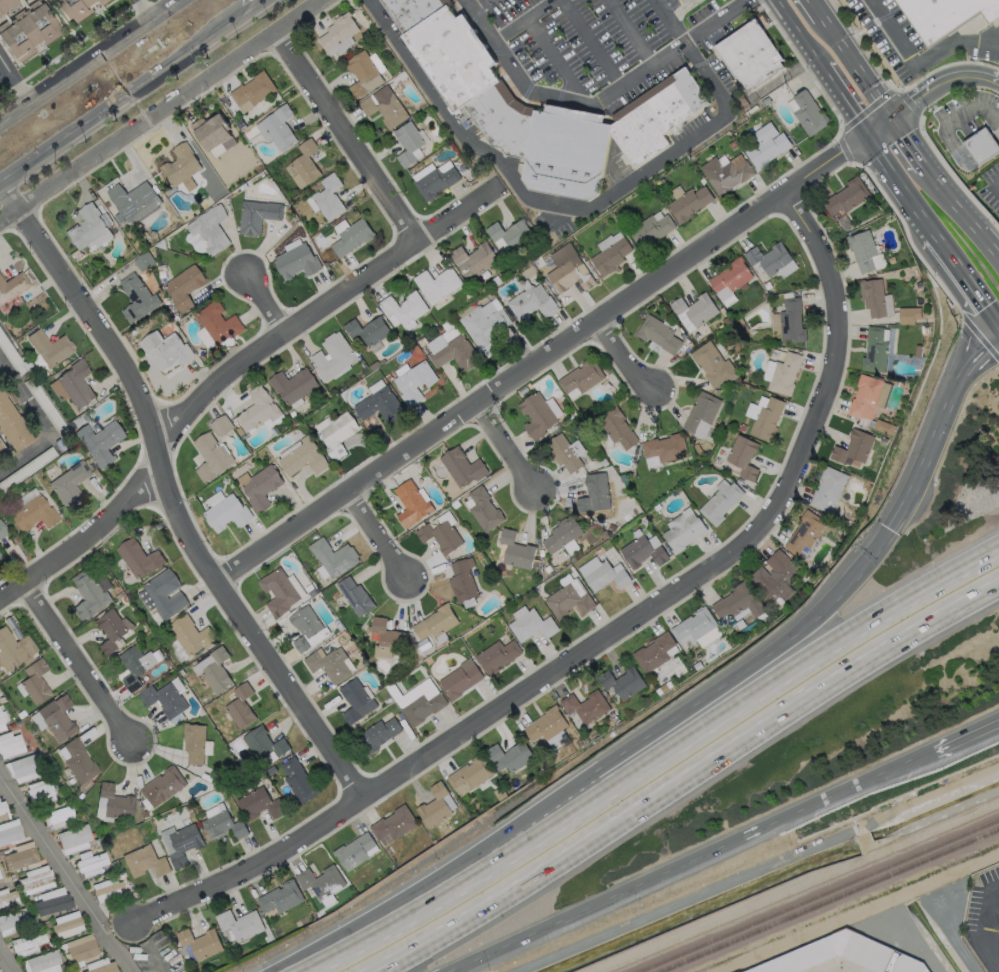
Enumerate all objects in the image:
building: (683, 0)
road: (474, 3)
building: (8, 7)
building: (72, 8)
road: (262, 8)
road: (815, 9)
road: (145, 10)
road: (682, 10)
building: (943, 16)
road: (520, 19)
road: (667, 20)
building: (338, 31)
building: (26, 32)
road: (630, 32)
road: (799, 34)
road: (592, 43)
building: (749, 57)
road: (555, 58)
road: (919, 59)
road: (91, 63)
road: (856, 69)
building: (363, 73)
road: (16, 80)
road: (940, 83)
building: (252, 91)
road: (125, 101)
road: (845, 102)
building: (670, 103)
road: (595, 104)
building: (384, 106)
road: (973, 108)
road: (162, 111)
building: (808, 113)
traffic signals: (892, 120)
building: (277, 127)
road: (880, 128)
building: (211, 130)
road: (349, 135)
traffic signals: (868, 137)
building: (409, 143)
road: (908, 143)
building: (766, 145)
building: (982, 149)
road: (964, 160)
building: (305, 162)
building: (180, 165)
building: (726, 172)
building: (434, 179)
road: (899, 187)
building: (846, 196)
building: (328, 197)
building: (133, 201)
road: (553, 202)
building: (689, 203)
road: (961, 214)
building: (257, 215)
building: (89, 229)
building: (210, 229)
building: (650, 230)
building: (510, 233)
building: (352, 237)
building: (862, 249)
building: (611, 253)
building: (474, 260)
building: (771, 260)
building: (143, 261)
building: (296, 261)
building: (568, 270)
building: (729, 280)
road: (963, 281)
building: (437, 284)
building: (12, 286)
building: (184, 286)
building: (136, 296)
building: (872, 297)
building: (531, 301)
road: (266, 306)
building: (404, 307)
building: (694, 310)
building: (909, 314)
building: (791, 321)
building: (218, 323)
building: (485, 325)
building: (368, 330)
building: (659, 333)
building: (49, 347)
building: (165, 349)
building: (874, 350)
building: (455, 352)
building: (333, 356)
road: (624, 358)
road: (540, 360)
building: (713, 364)
building: (782, 373)
road: (228, 375)
building: (581, 377)
building: (414, 382)
building: (75, 384)
building: (292, 384)
building: (864, 397)
building: (379, 405)
building: (257, 409)
building: (701, 414)
building: (536, 415)
building: (764, 417)
road: (43, 420)
building: (220, 425)
building: (617, 427)
building: (883, 427)
building: (11, 428)
road: (934, 429)
building: (337, 433)
building: (100, 442)
road: (510, 445)
building: (853, 447)
building: (663, 449)
building: (1, 451)
building: (564, 452)
building: (211, 456)
building: (742, 456)
building: (302, 458)
building: (462, 466)
building: (69, 485)
building: (261, 487)
building: (827, 489)
building: (594, 493)
road: (173, 496)
building: (721, 501)
building: (410, 503)
building: (484, 509)
building: (227, 513)
building: (32, 514)
building: (2, 530)
building: (682, 530)
traffic signals: (888, 531)
road: (380, 532)
building: (804, 532)
building: (561, 534)
building: (441, 536)
building: (642, 549)
building: (515, 550)
building: (0, 556)
building: (333, 556)
building: (138, 558)
building: (602, 573)
building: (775, 575)
building: (462, 580)
building: (278, 591)
building: (164, 593)
building: (88, 595)
building: (355, 596)
building: (569, 597)
building: (738, 602)
building: (435, 622)
building: (531, 624)
building: (693, 627)
building: (307, 628)
building: (111, 629)
building: (190, 635)
building: (384, 637)
road: (605, 638)
building: (13, 649)
building: (653, 652)
building: (497, 655)
road: (82, 663)
building: (330, 664)
building: (135, 665)
road: (752, 665)
building: (216, 670)
building: (460, 680)
building: (35, 681)
building: (621, 682)
building: (164, 699)
building: (357, 700)
building: (240, 706)
building: (585, 706)
building: (422, 708)
building: (56, 717)
building: (2, 719)
building: (548, 727)
building: (378, 734)
road: (968, 740)
building: (193, 742)
building: (264, 743)
building: (10, 744)
building: (509, 756)
building: (78, 760)
road: (654, 762)
building: (25, 765)
building: (469, 775)
building: (299, 779)
road: (684, 783)
building: (163, 786)
building: (40, 792)
building: (116, 802)
building: (259, 804)
building: (434, 806)
building: (3, 811)
building: (58, 816)
building: (224, 825)
building: (393, 825)
building: (10, 831)
building: (73, 838)
building: (184, 843)
railway: (950, 843)
building: (355, 851)
railway: (954, 851)
building: (20, 856)
building: (145, 861)
building: (90, 863)
road: (697, 863)
railway: (890, 870)
road: (434, 875)
road: (64, 877)
railway: (895, 877)
building: (0, 878)
building: (36, 880)
building: (321, 881)
building: (106, 889)
building: (6, 897)
building: (280, 897)
building: (52, 901)
building: (13, 921)
railway: (761, 923)
building: (67, 924)
building: (240, 924)
railway: (775, 927)
road: (997, 939)
building: (200, 943)
building: (27, 946)
building: (81, 948)
building: (828, 952)
road: (7, 960)
building: (42, 960)
building: (908, 963)
building: (103, 968)

